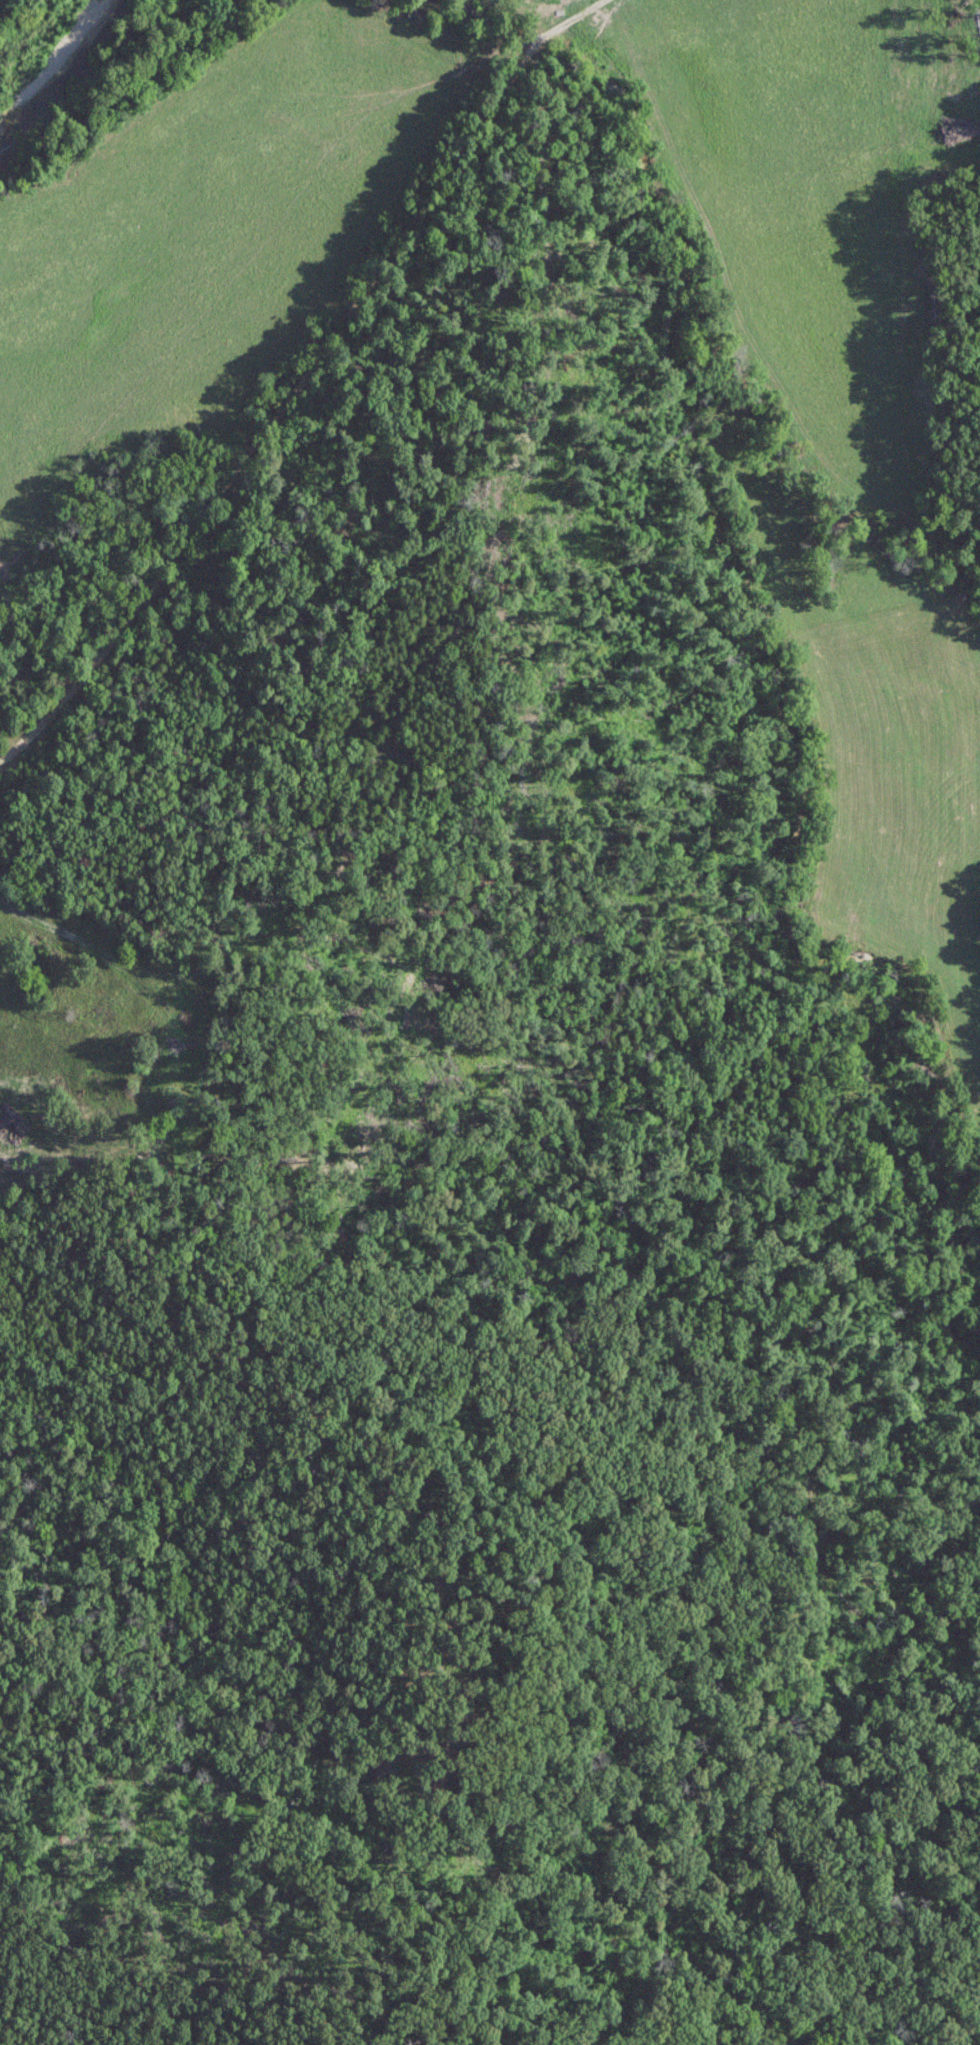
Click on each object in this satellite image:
building: (975, 21)
road: (304, 380)

